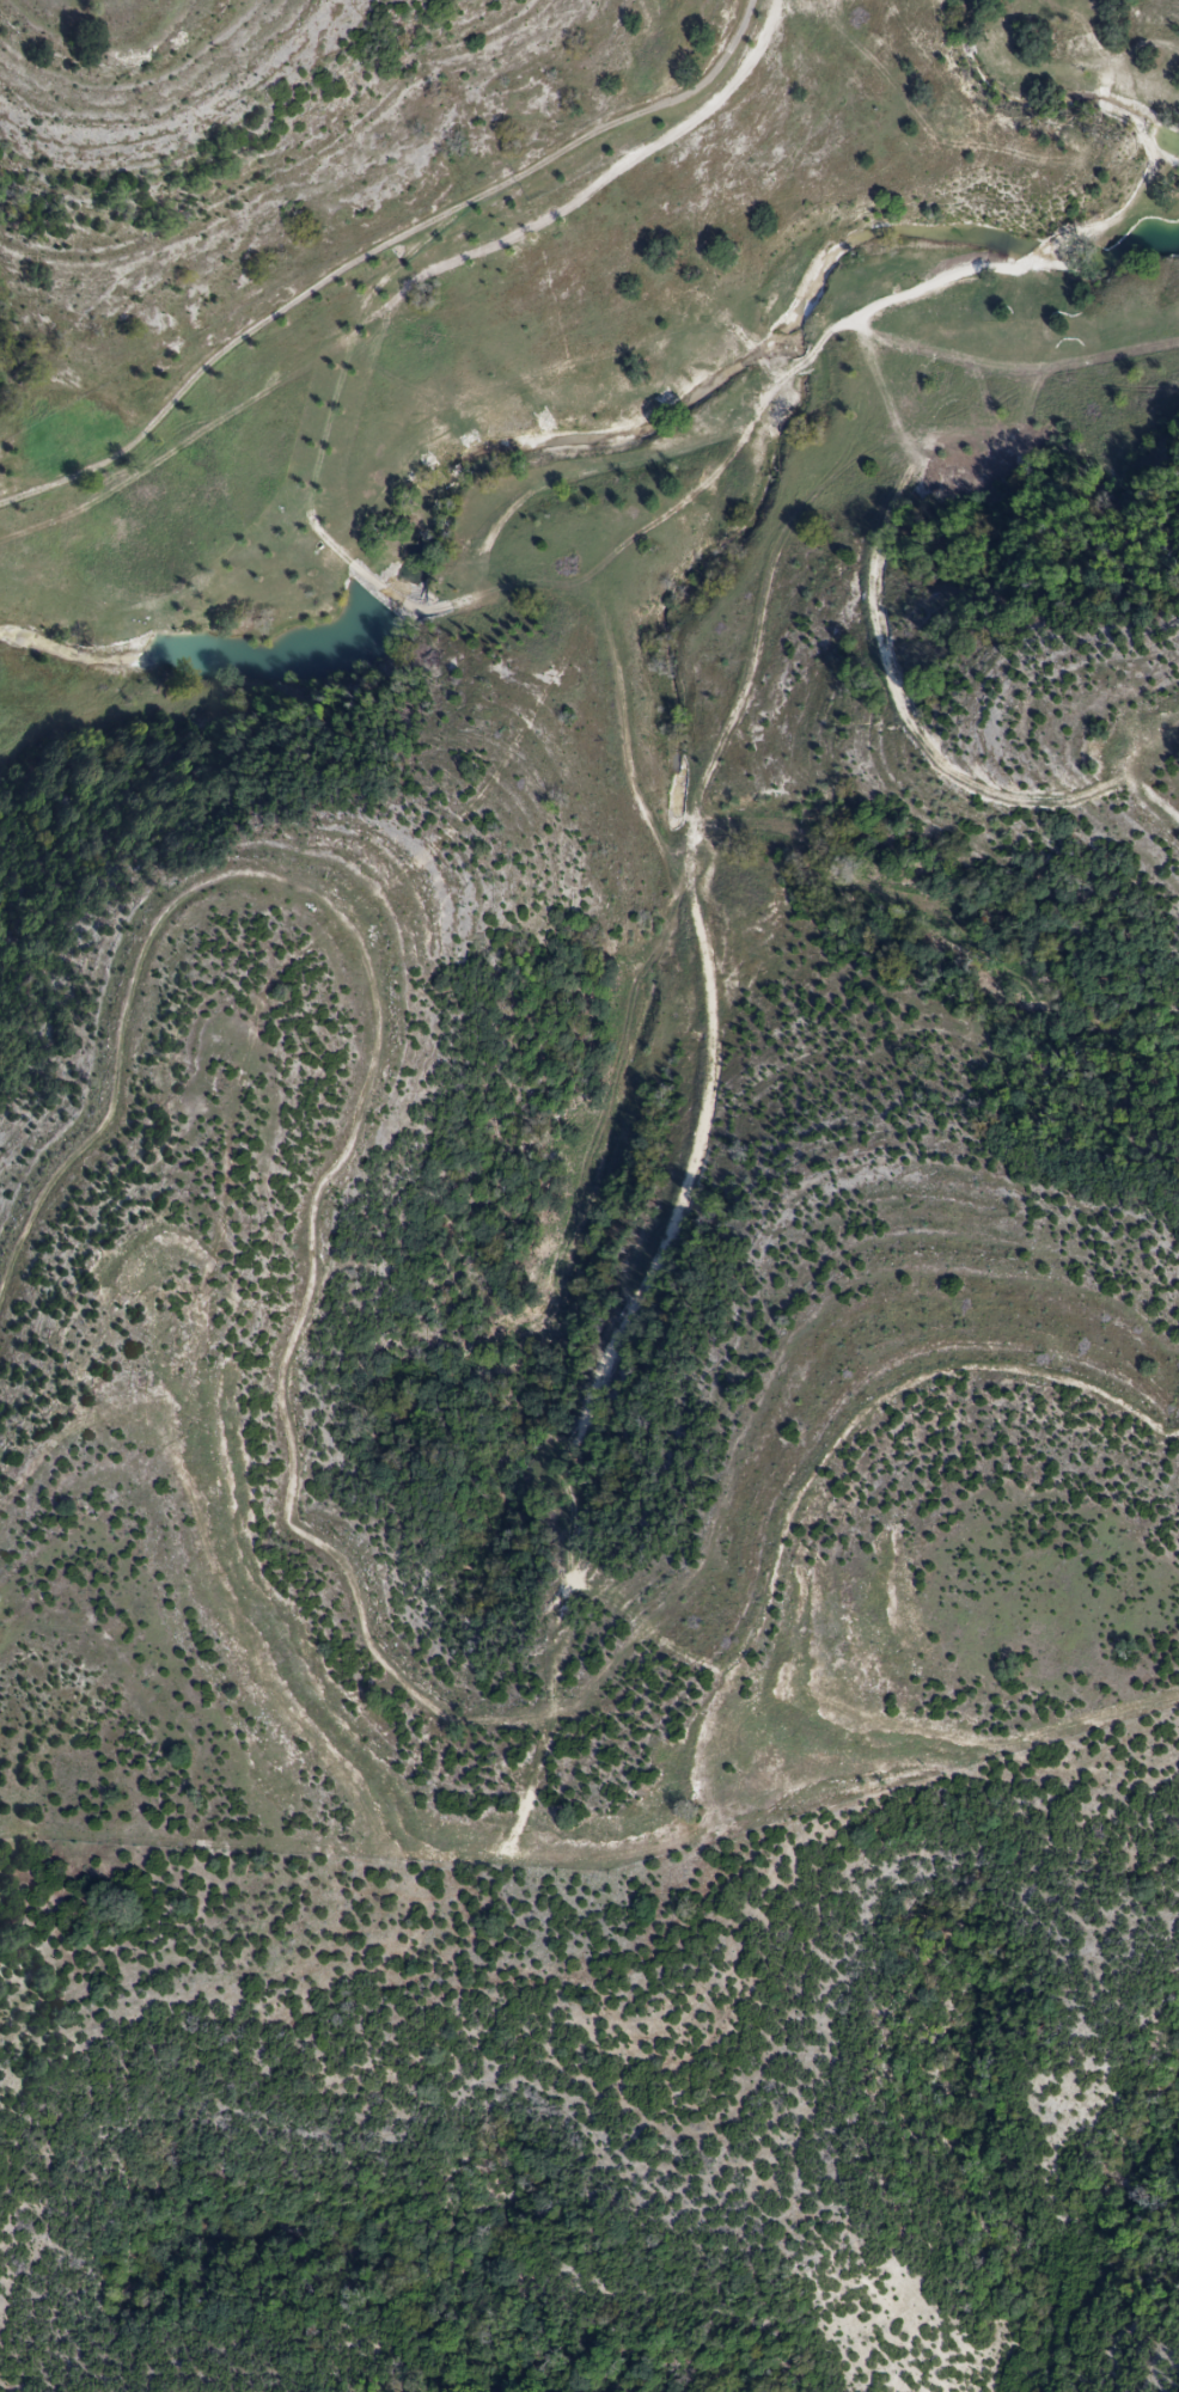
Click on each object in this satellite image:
building: (661, 62)
road: (383, 250)

